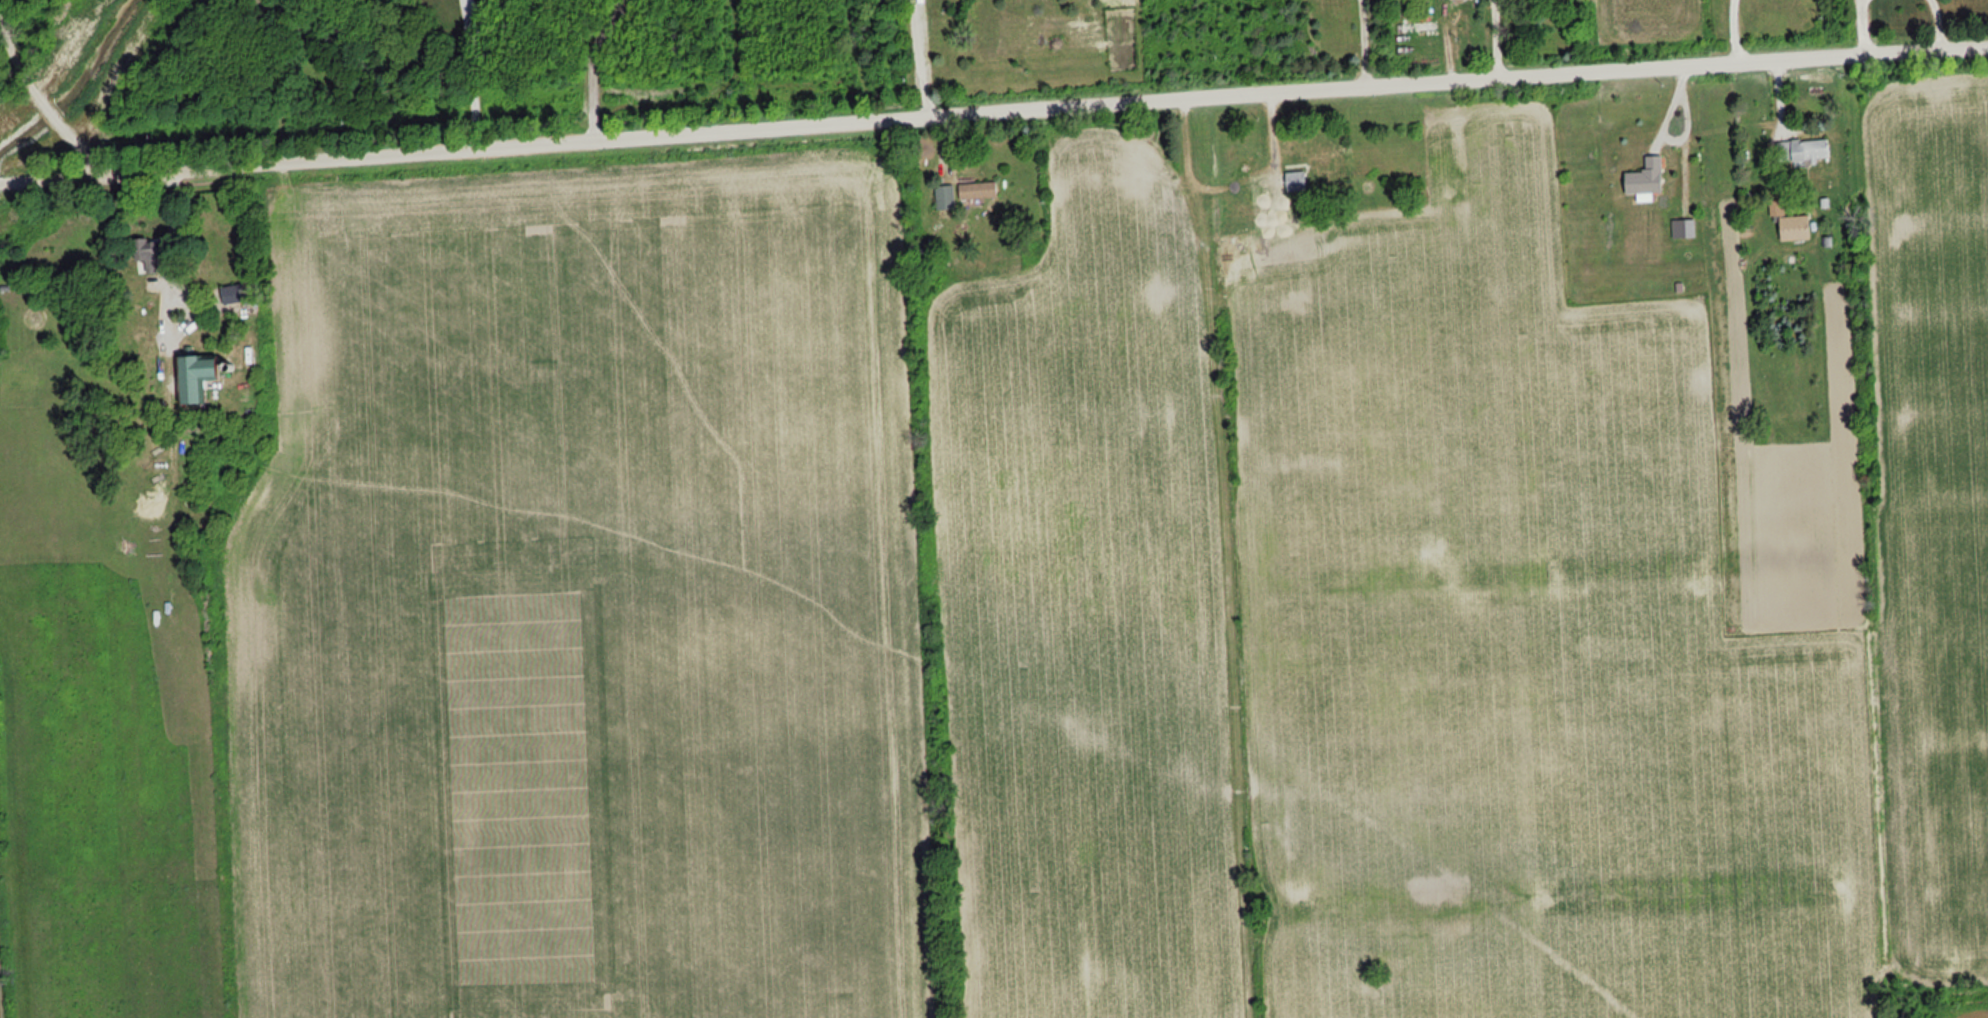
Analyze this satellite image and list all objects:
building: (1553, 0)
building: (1417, 27)
road: (1734, 34)
road: (1364, 45)
road: (917, 60)
road: (593, 67)
road: (472, 76)
road: (36, 93)
road: (993, 116)
building: (1801, 151)
building: (1324, 161)
building: (1295, 177)
building: (1644, 178)
building: (977, 190)
building: (944, 197)
building: (1790, 224)
building: (142, 249)
building: (232, 293)
building: (193, 378)

